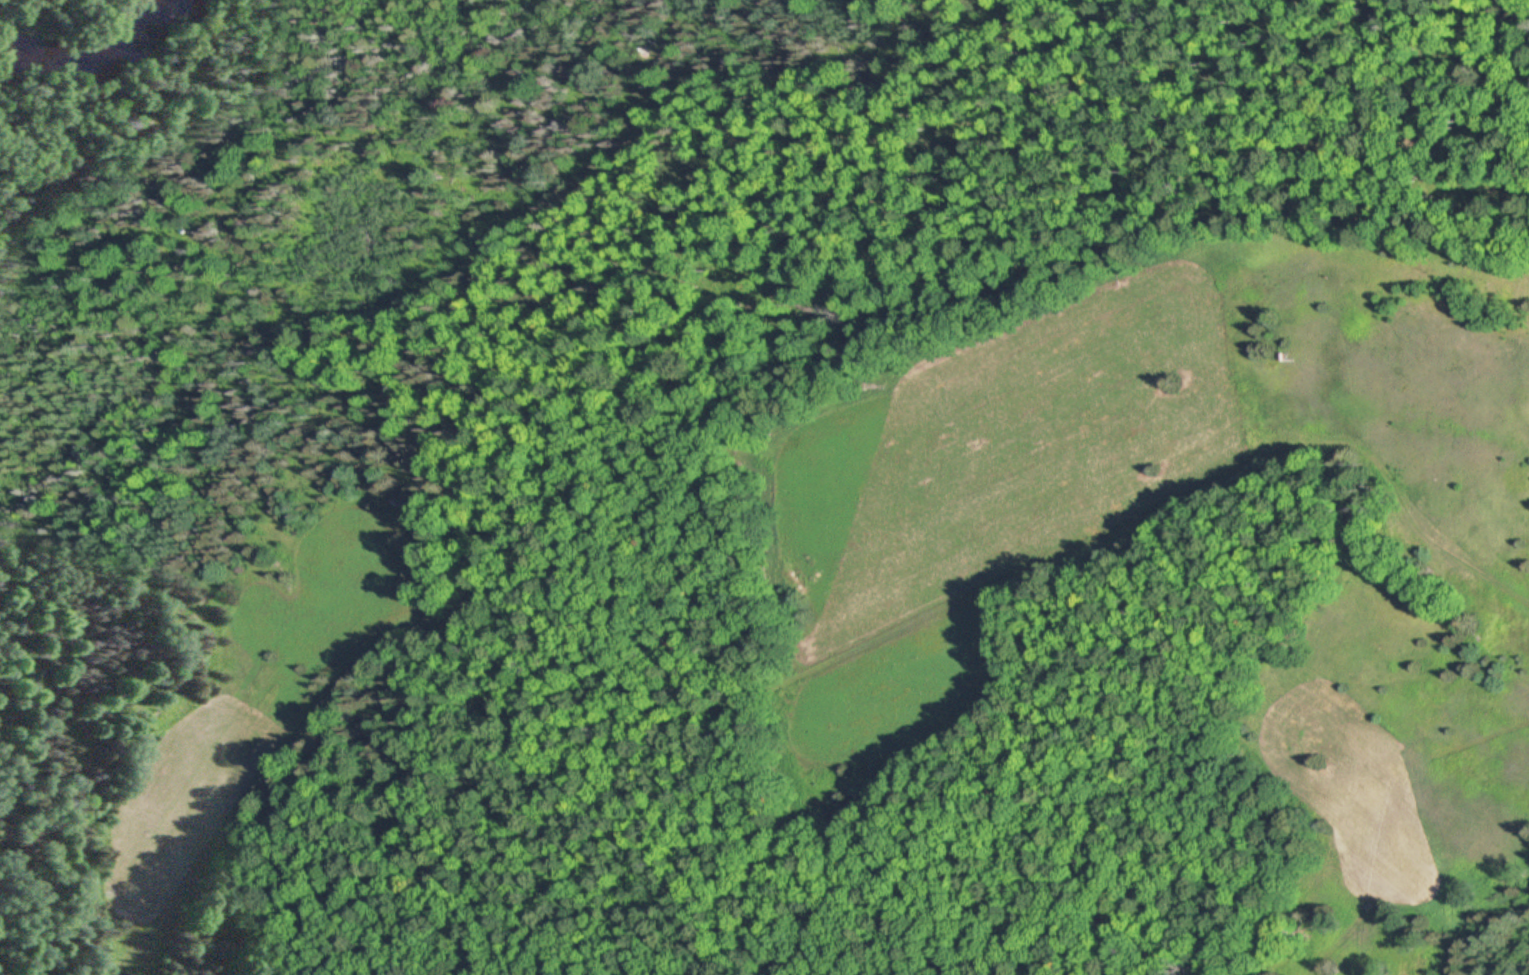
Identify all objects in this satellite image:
river: (94, 46)
road: (729, 103)

